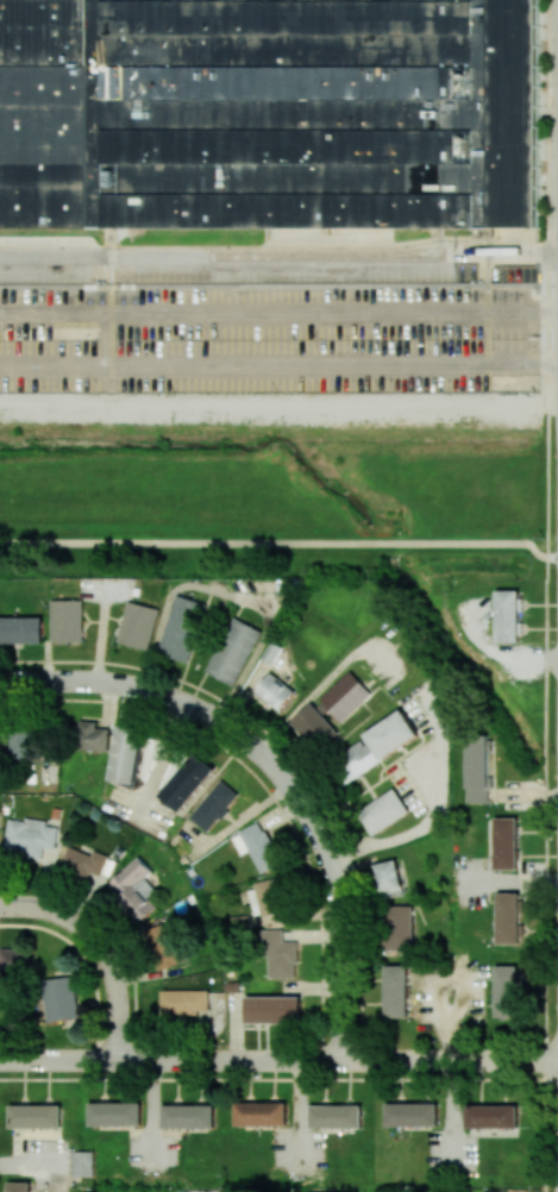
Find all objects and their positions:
road: (278, 256)
road: (278, 314)
road: (278, 365)
road: (278, 403)
road: (281, 542)
road: (231, 596)
building: (508, 616)
building: (67, 620)
building: (137, 625)
building: (181, 628)
building: (21, 629)
building: (233, 651)
road: (326, 679)
building: (275, 691)
building: (345, 696)
building: (313, 726)
building: (89, 736)
building: (23, 744)
building: (376, 746)
building: (126, 754)
road: (162, 760)
building: (478, 770)
road: (276, 772)
building: (187, 782)
building: (214, 805)
building: (383, 811)
road: (437, 816)
building: (29, 836)
building: (506, 843)
building: (257, 846)
building: (82, 861)
building: (389, 878)
road: (512, 885)
building: (134, 887)
building: (268, 897)
building: (509, 918)
building: (400, 928)
building: (167, 945)
road: (100, 948)
building: (280, 954)
building: (14, 960)
building: (396, 991)
building: (507, 991)
building: (59, 998)
building: (183, 1002)
building: (274, 1009)
road: (278, 1061)
building: (115, 1113)
building: (261, 1113)
building: (412, 1115)
building: (36, 1116)
building: (188, 1116)
building: (336, 1116)
building: (491, 1116)
building: (82, 1163)
building: (19, 1186)

